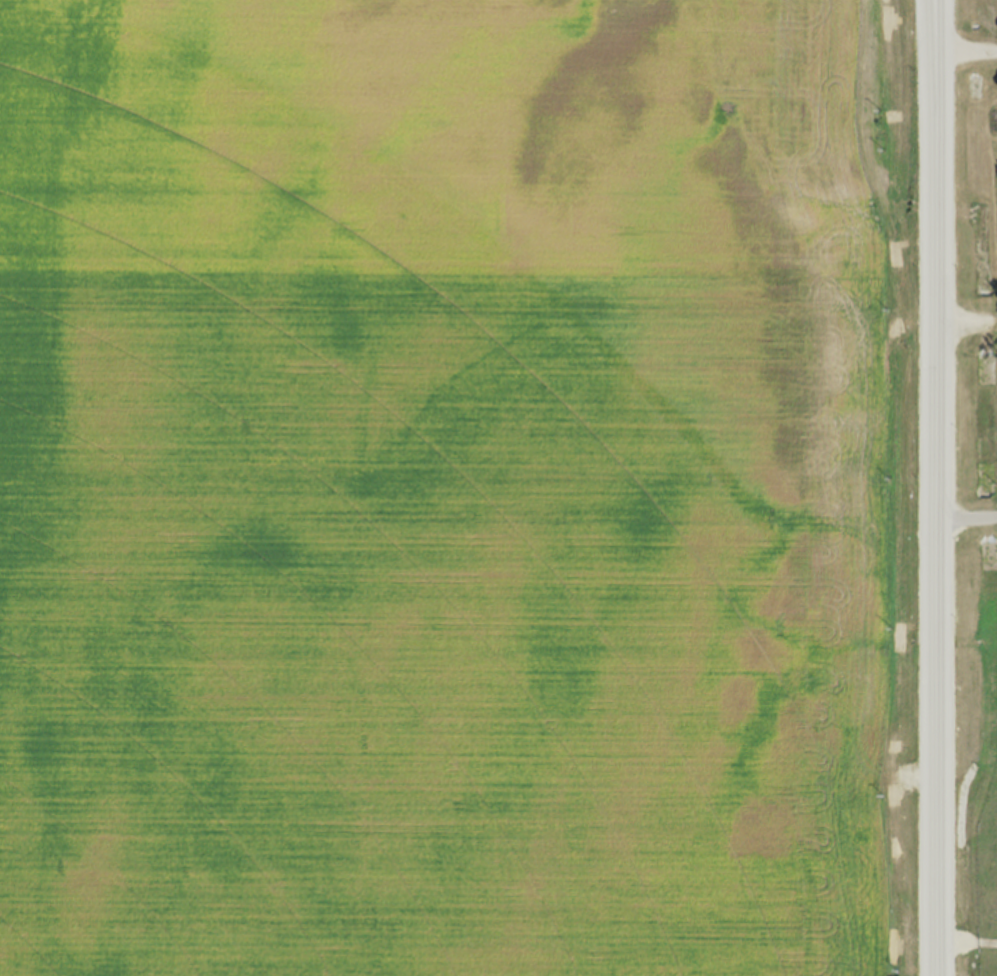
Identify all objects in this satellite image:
road: (968, 49)
road: (941, 487)
crop: (461, 488)
road: (969, 518)

